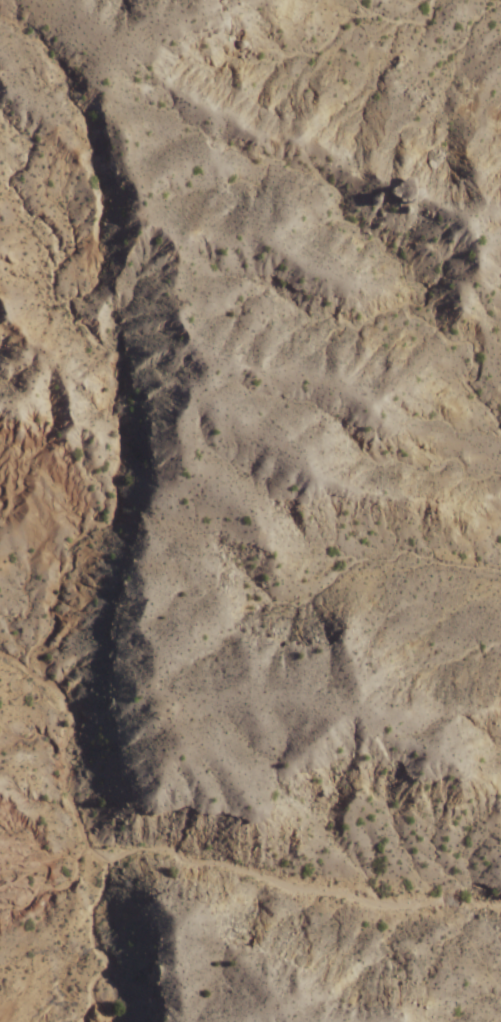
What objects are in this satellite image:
road: (212, 862)
road: (6, 886)
road: (27, 886)
road: (415, 909)
road: (467, 937)

